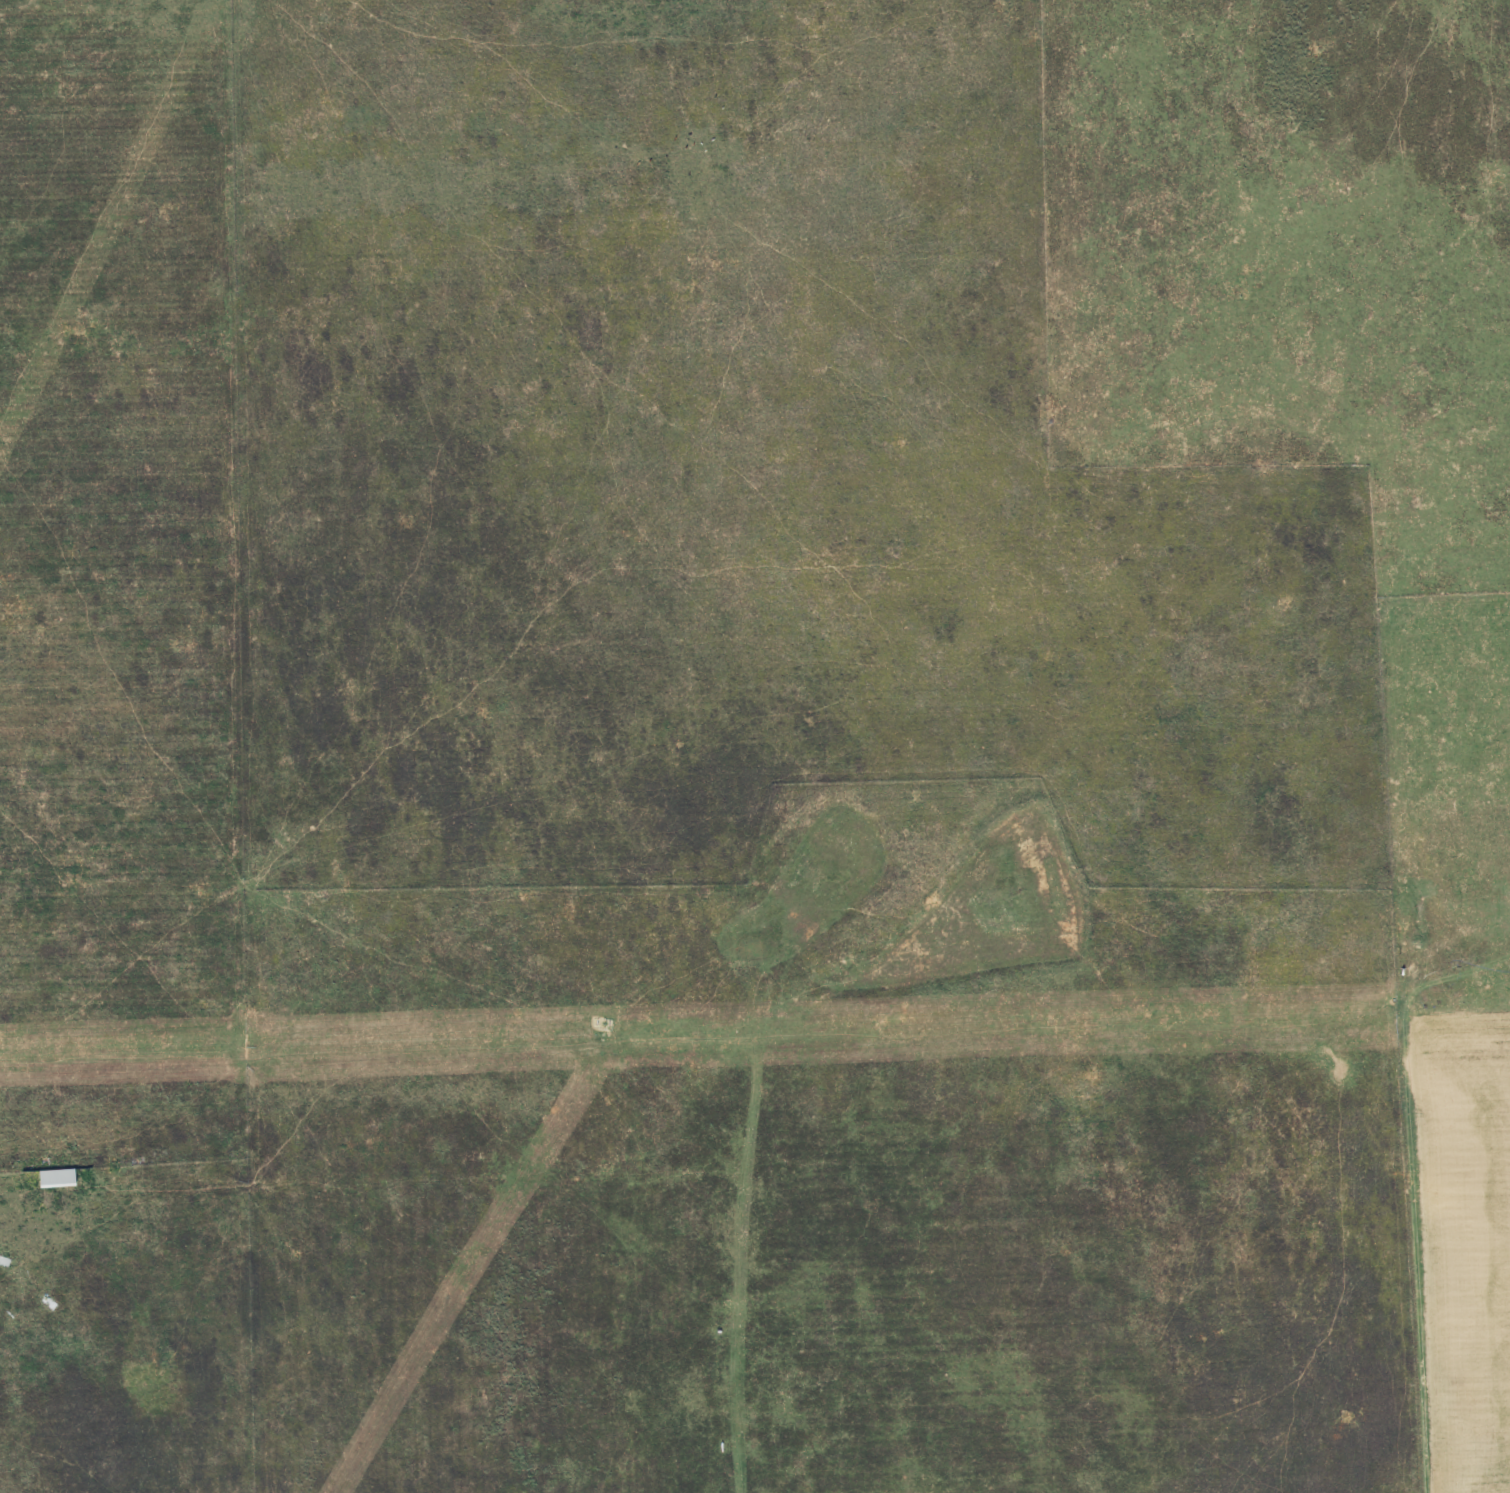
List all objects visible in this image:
building: (52, 1177)

